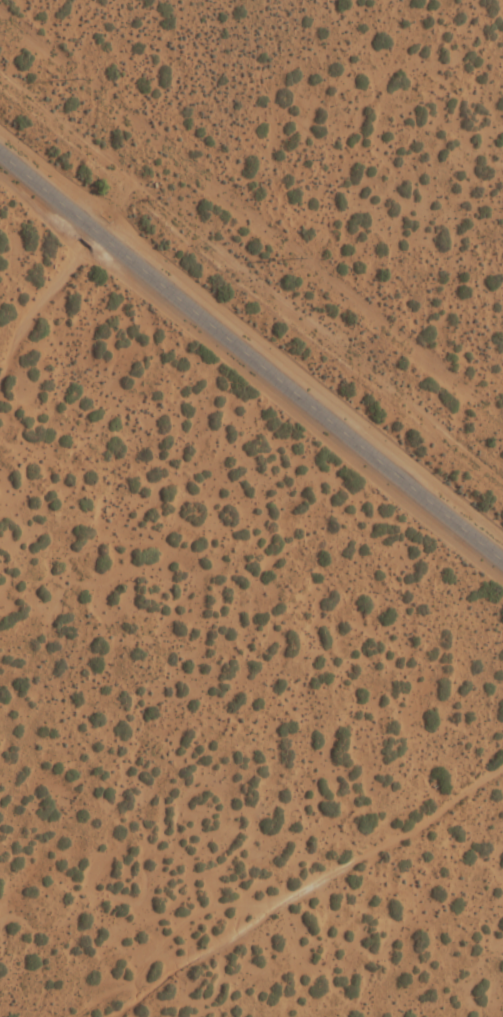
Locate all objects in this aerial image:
road: (251, 354)
building: (80, 400)
building: (107, 421)
building: (200, 675)

